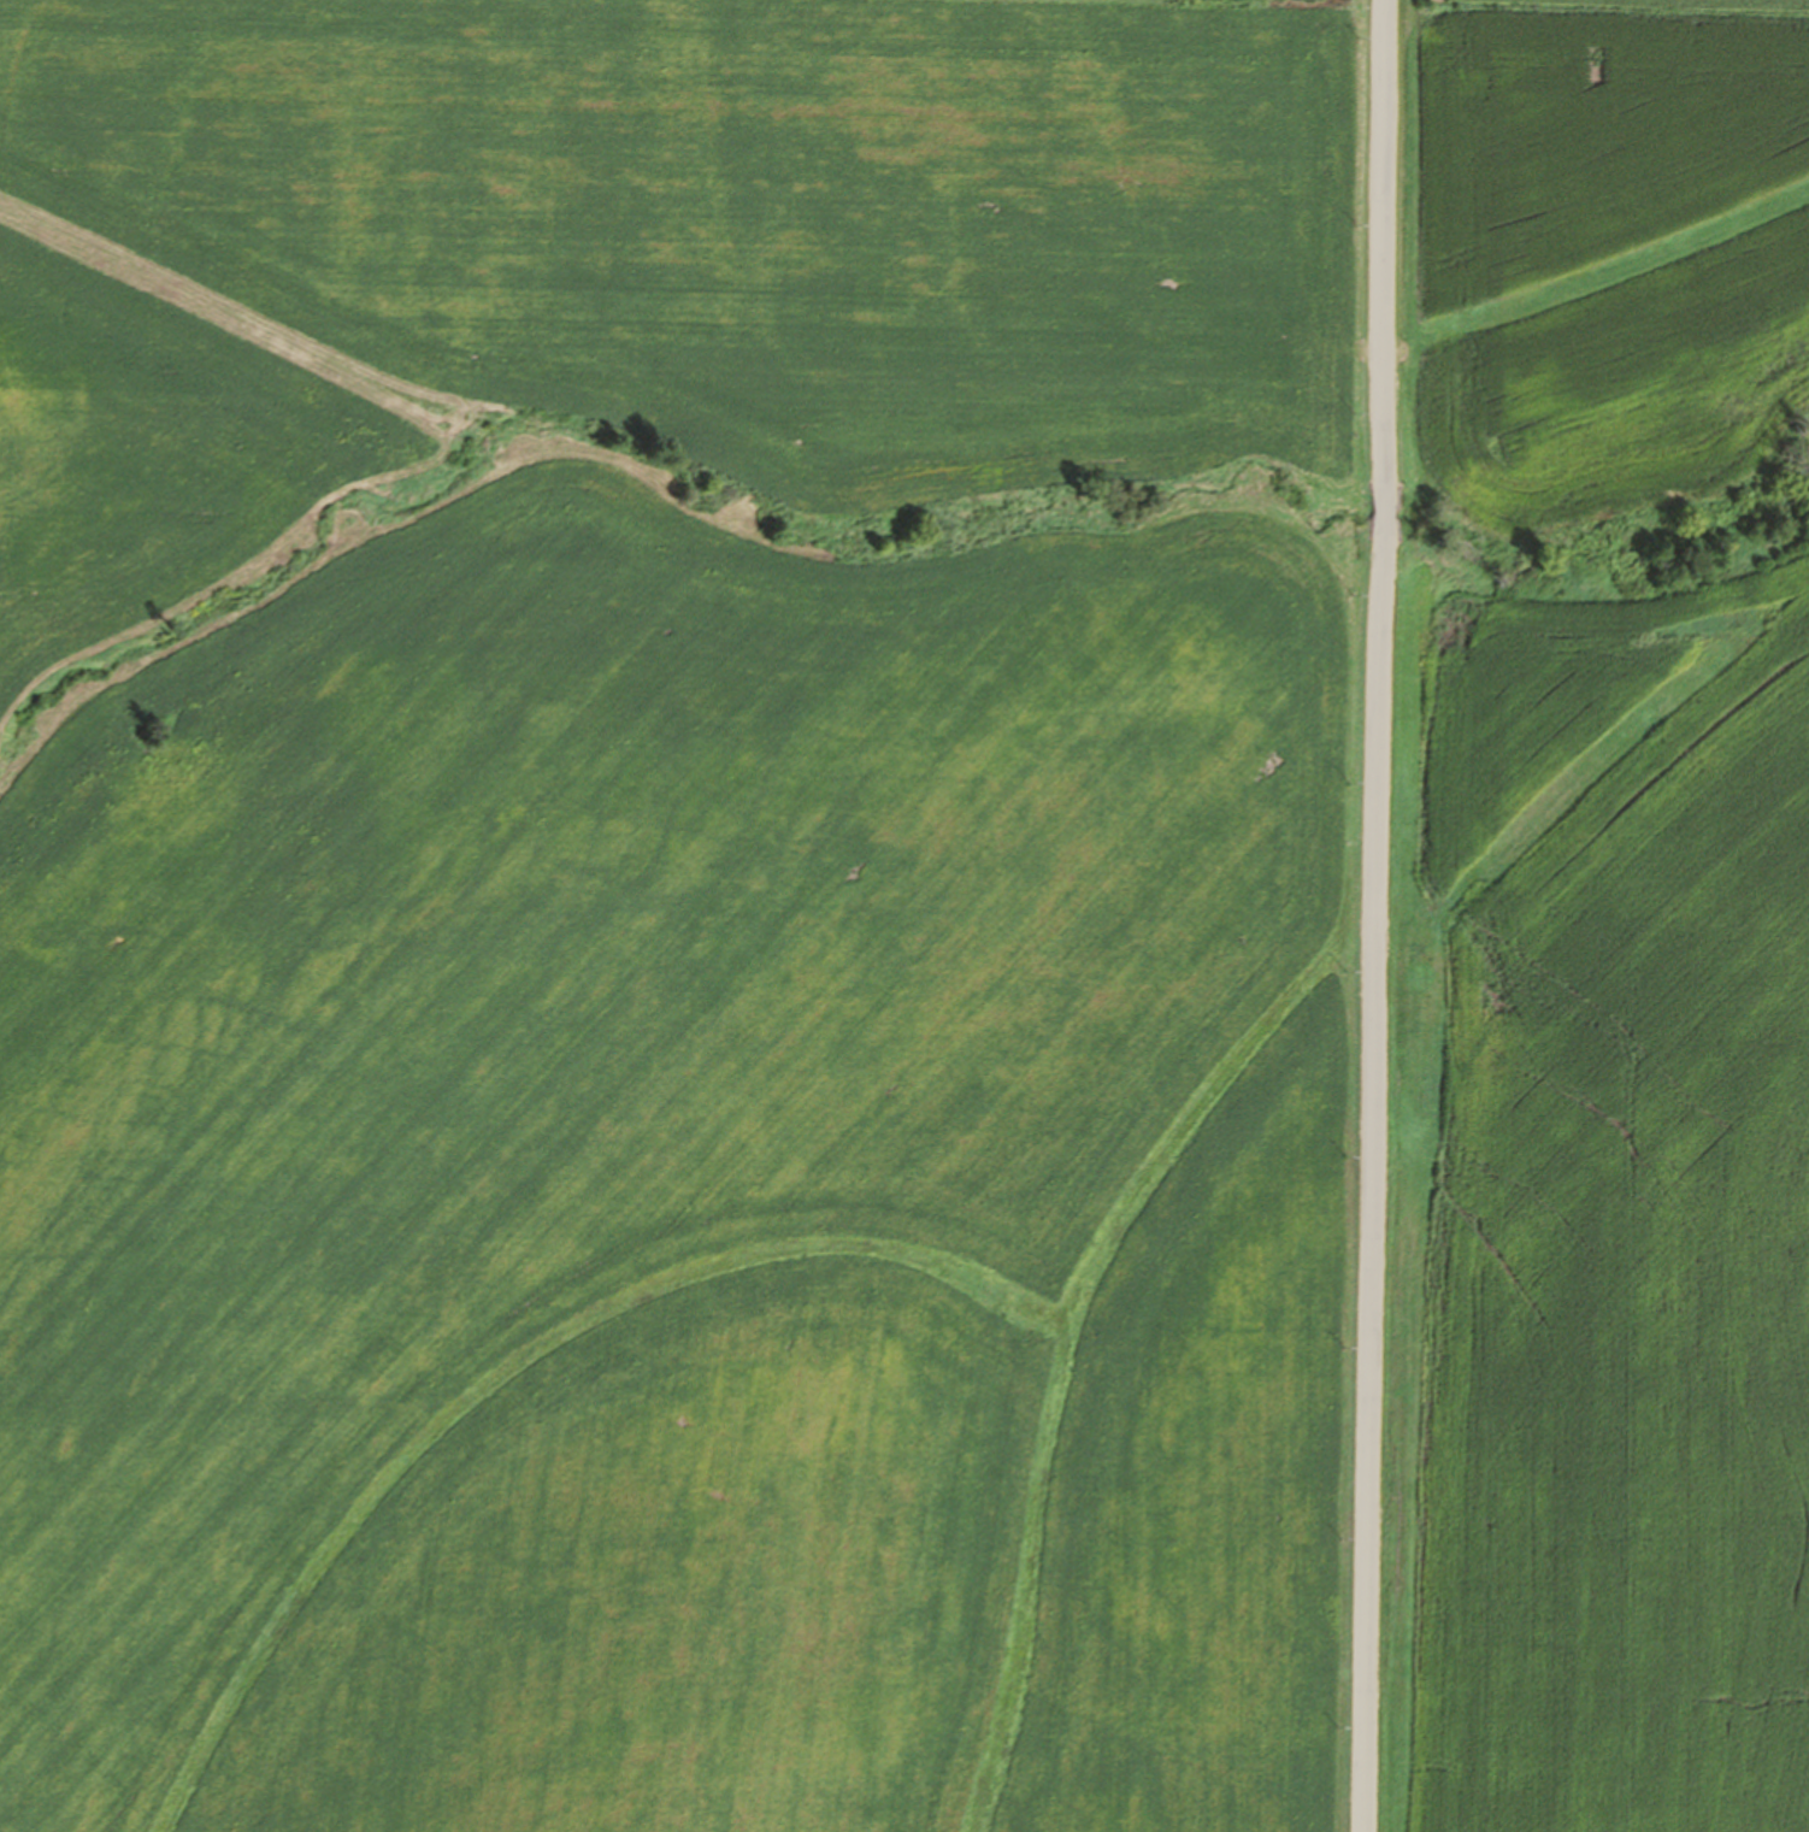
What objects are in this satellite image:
road: (1375, 915)

